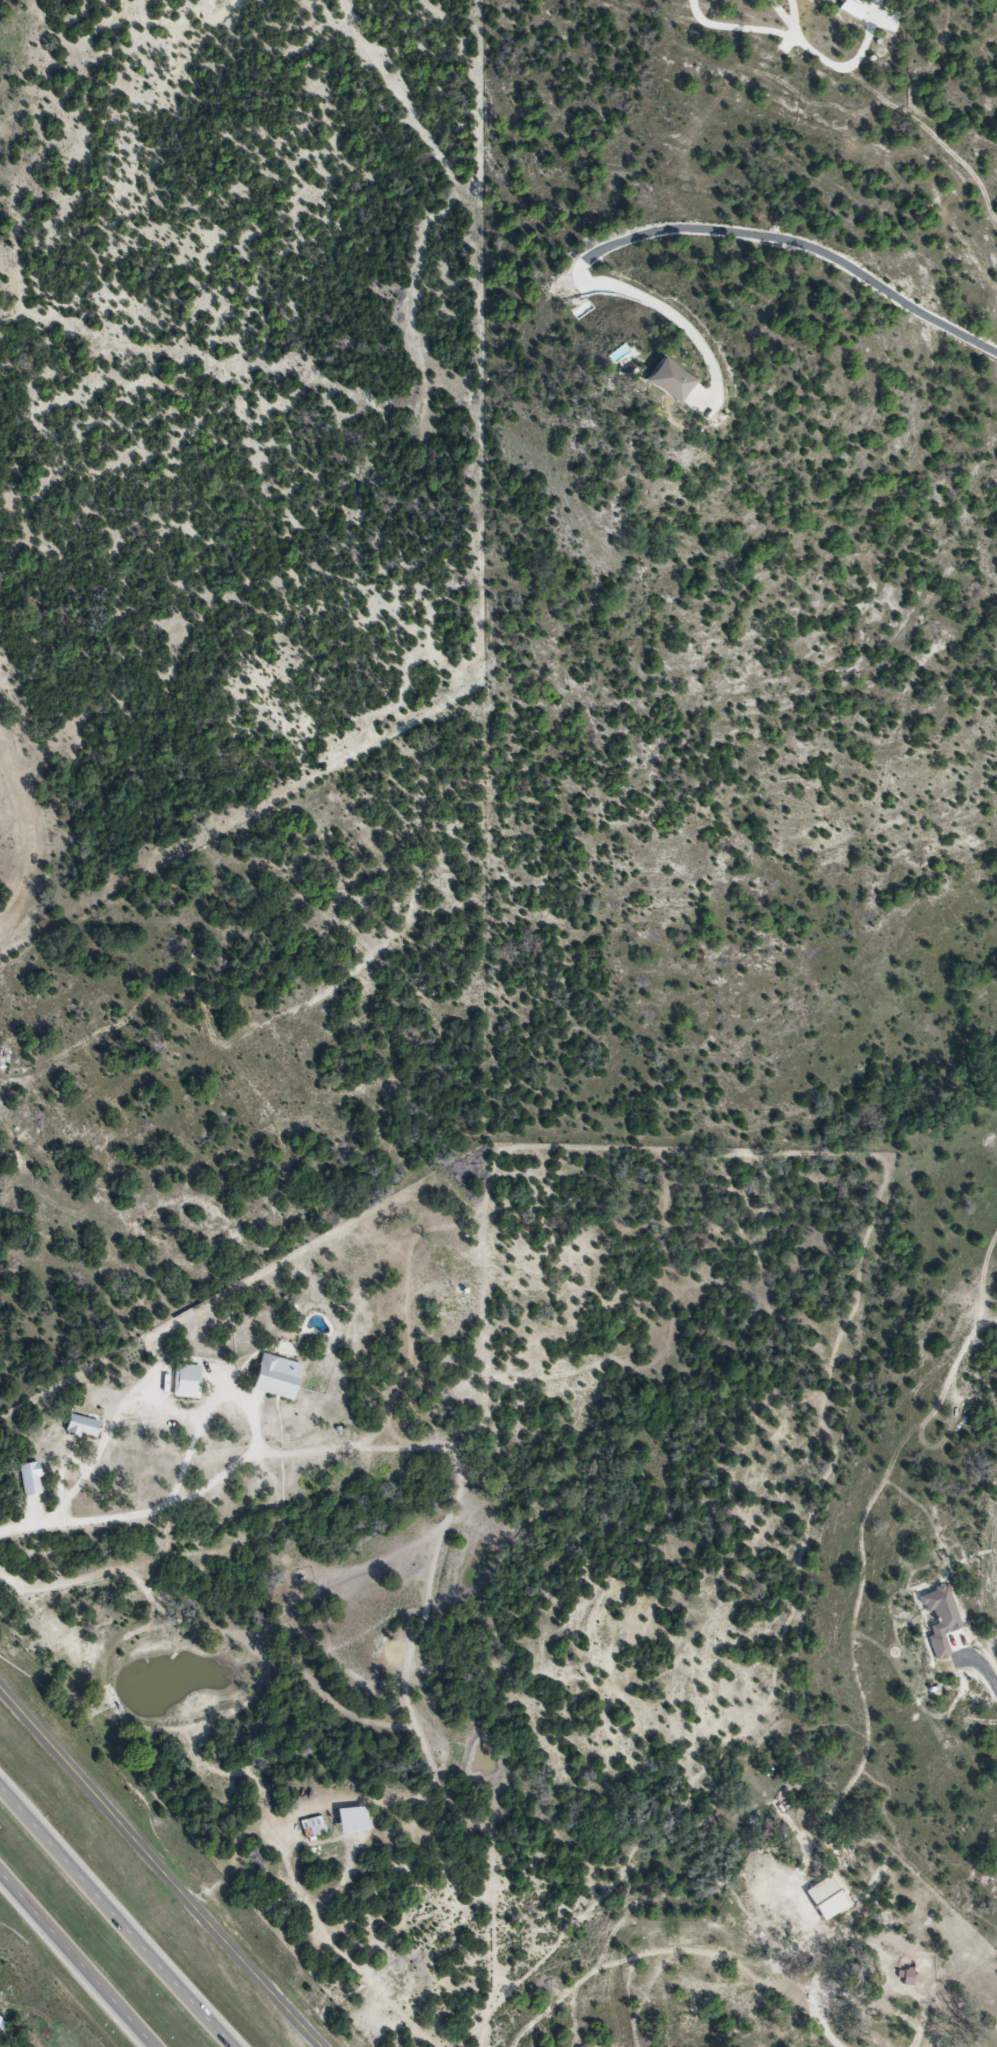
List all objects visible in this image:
road: (694, 226)
building: (8, 1049)
building: (278, 1378)
building: (187, 1382)
road: (246, 1405)
building: (83, 1427)
road: (85, 1525)
road: (983, 1665)
building: (313, 1825)
road: (162, 1867)
road: (120, 1915)
road: (81, 1957)

